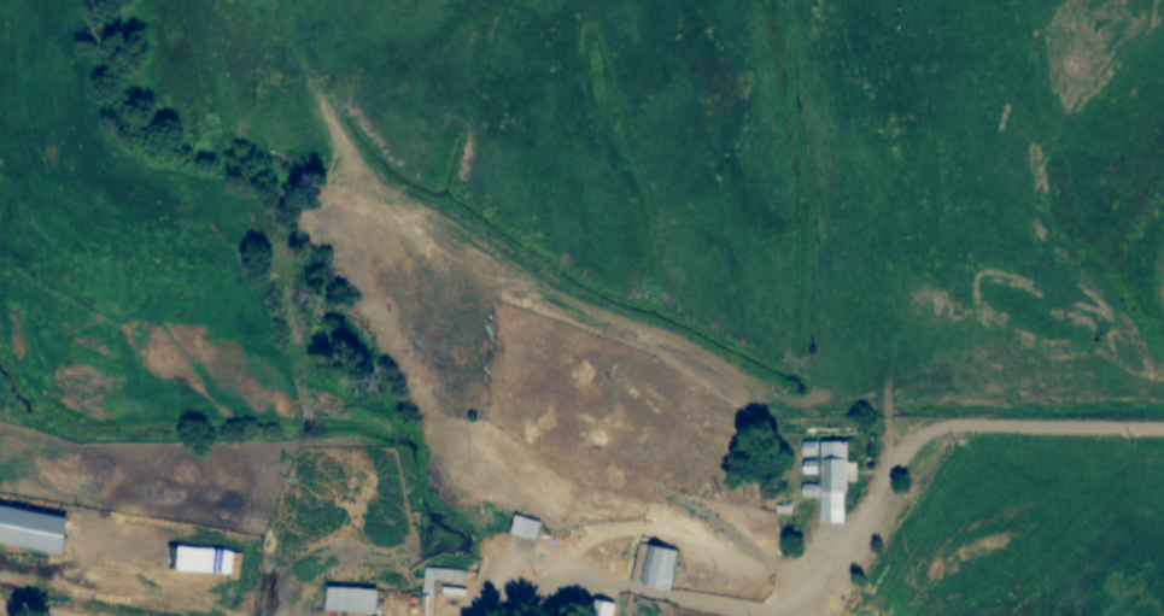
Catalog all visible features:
building: (826, 477)
building: (523, 526)
building: (31, 529)
building: (653, 565)
building: (428, 580)
building: (350, 599)

